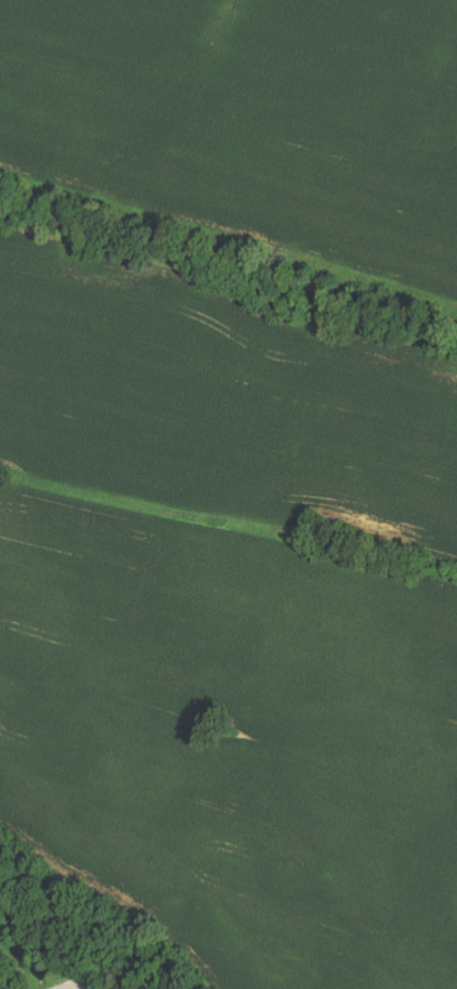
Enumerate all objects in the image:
road: (60, 982)

